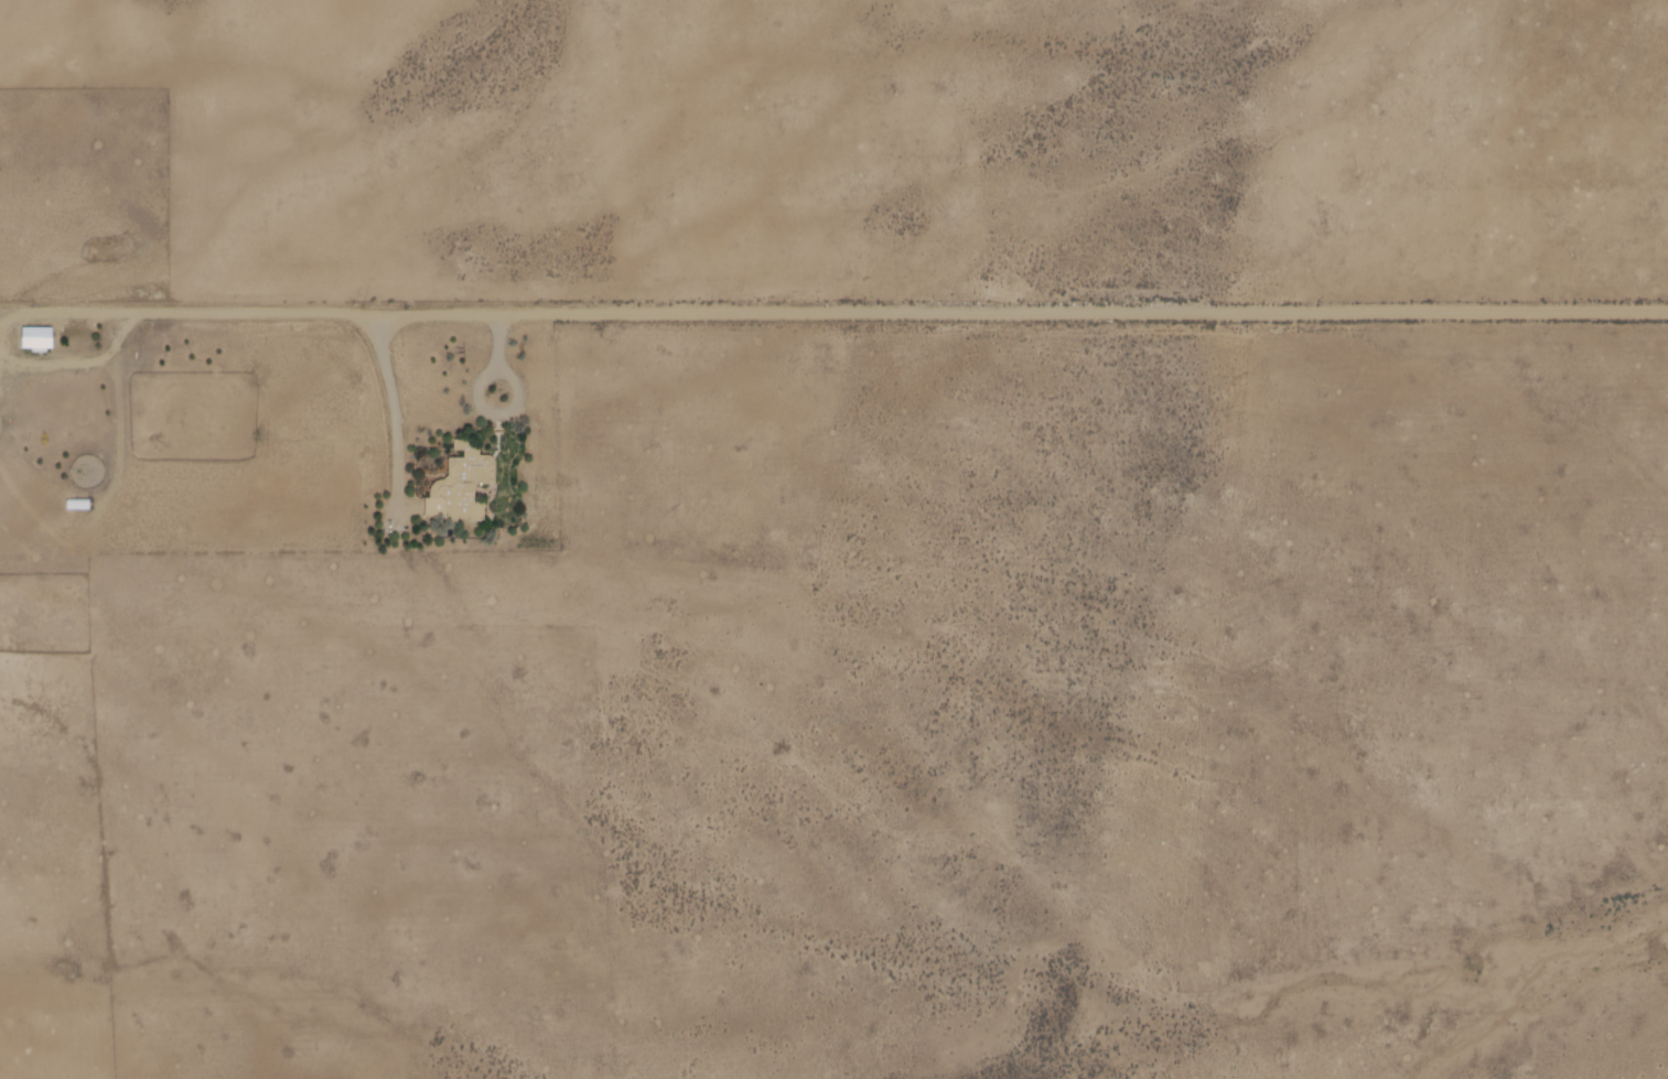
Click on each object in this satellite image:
building: (36, 337)

